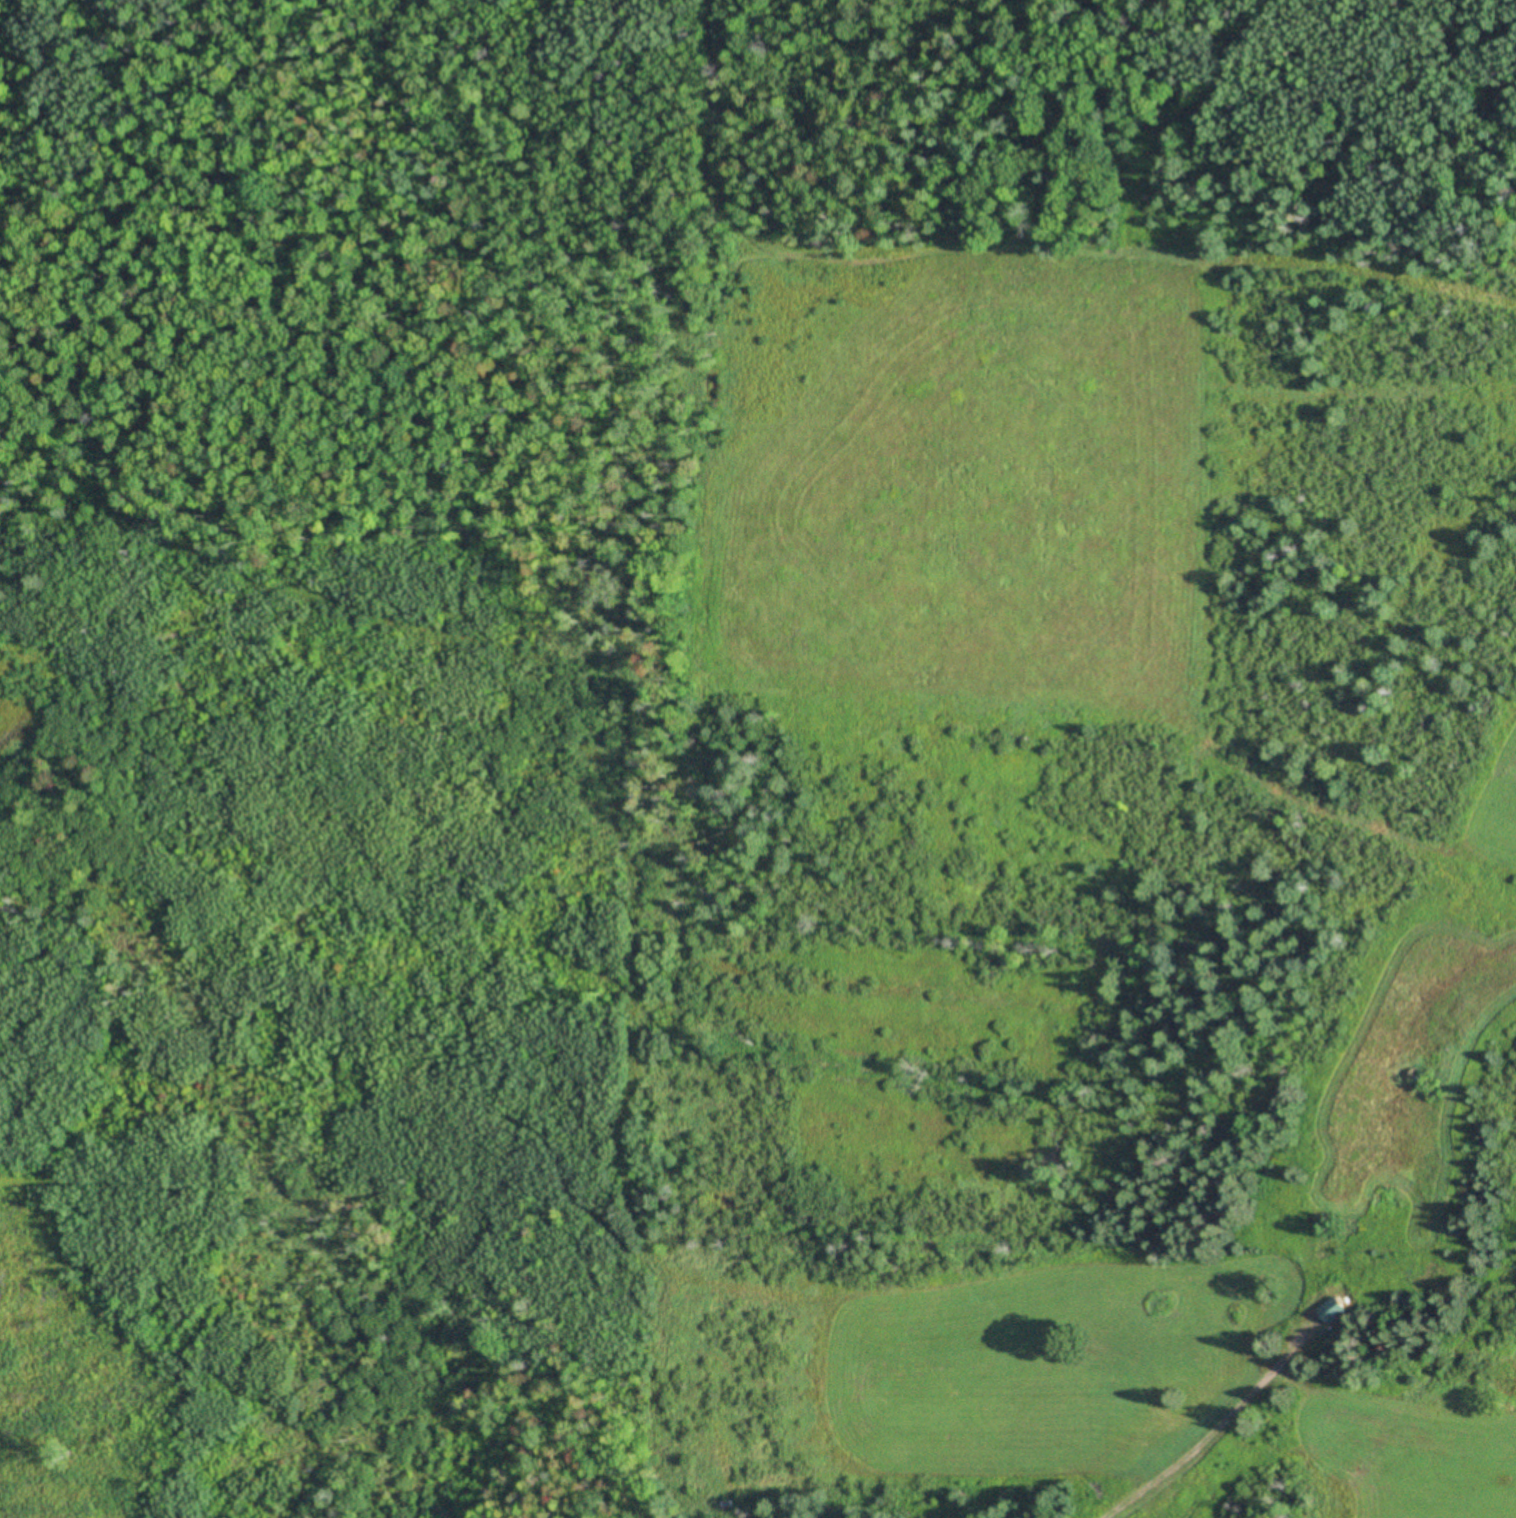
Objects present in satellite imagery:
building: (1335, 1313)

